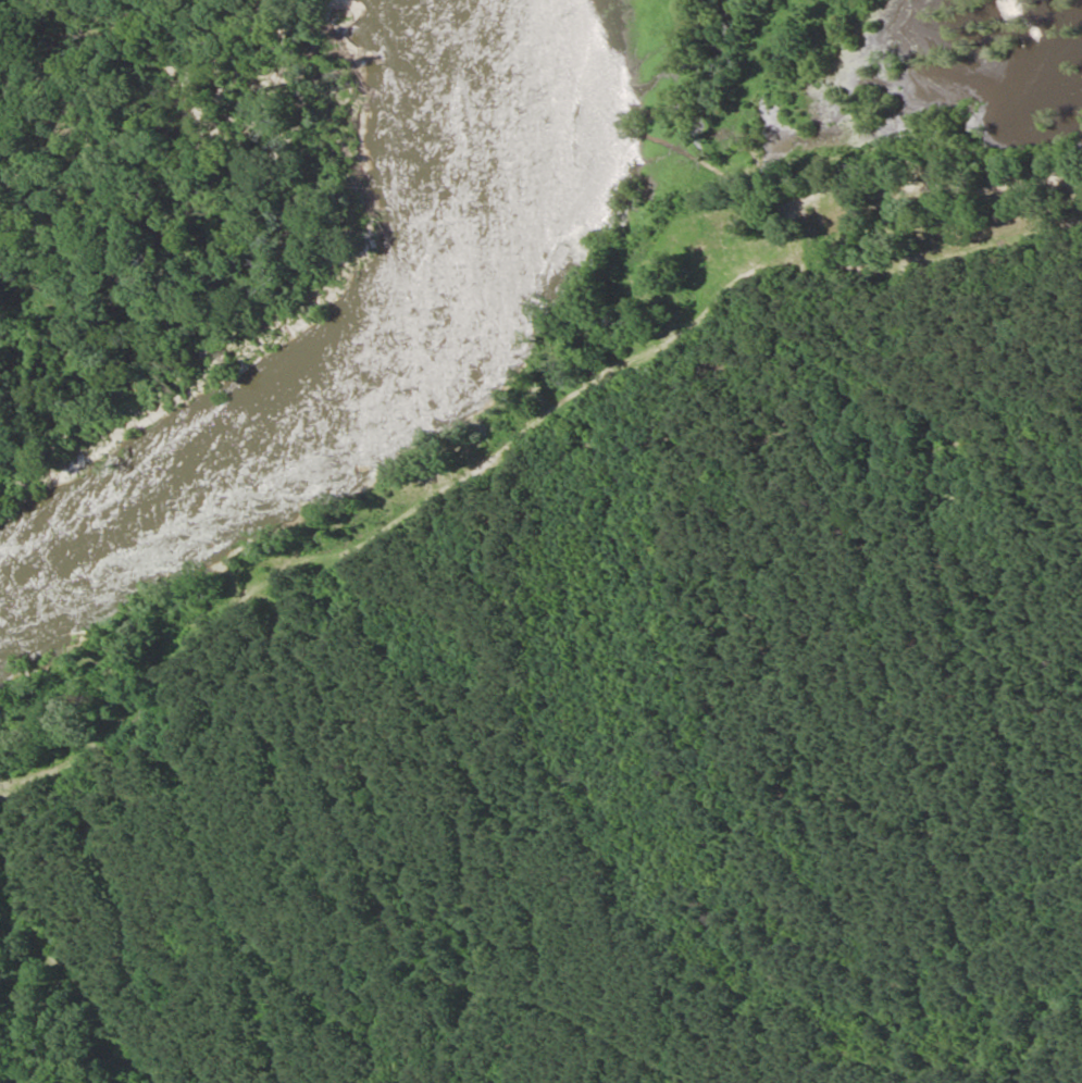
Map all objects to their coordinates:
river: (353, 360)

